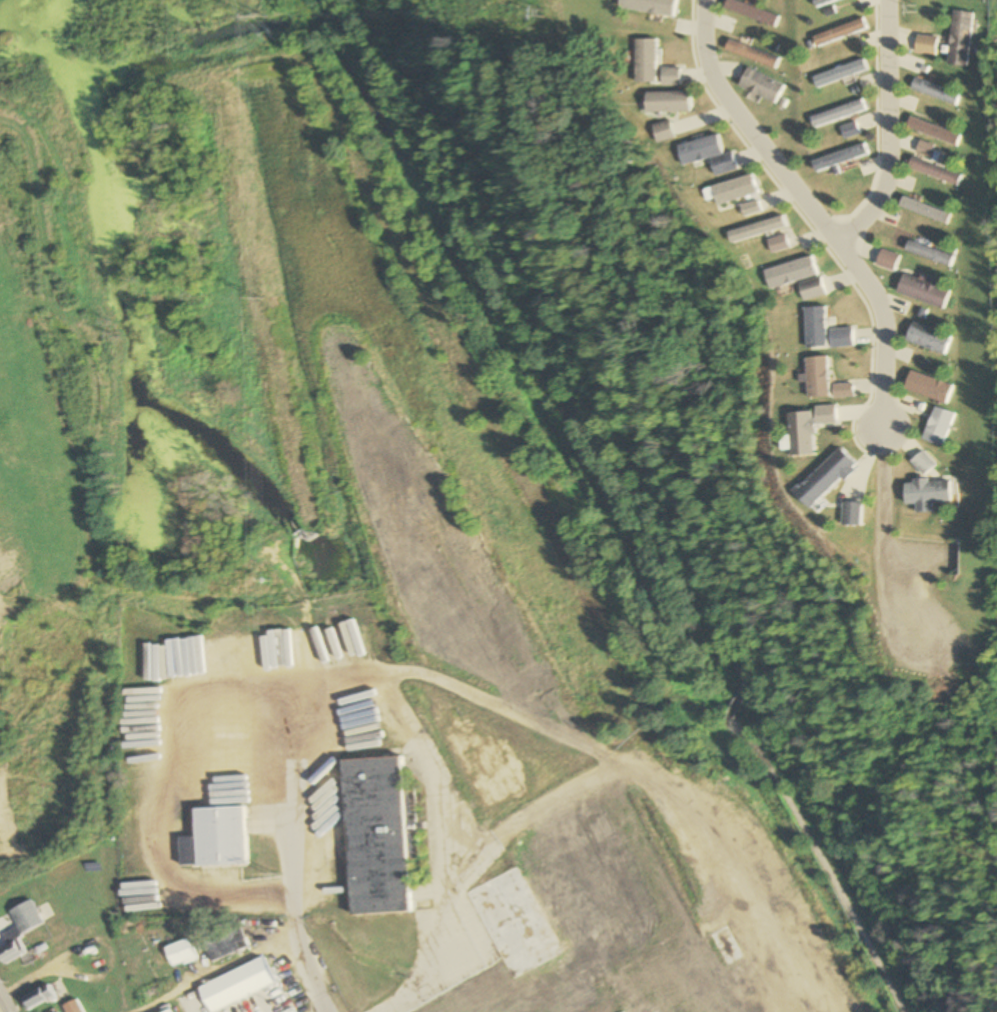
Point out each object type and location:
building: (817, 2)
building: (835, 33)
building: (957, 39)
building: (922, 45)
building: (640, 62)
building: (835, 74)
building: (665, 77)
building: (931, 92)
building: (664, 102)
building: (832, 114)
road: (878, 128)
building: (929, 131)
building: (660, 133)
building: (704, 155)
building: (929, 171)
road: (805, 211)
building: (918, 211)
building: (924, 253)
building: (919, 291)
road: (530, 349)
road: (737, 699)
building: (376, 835)
building: (218, 838)
road: (821, 861)
building: (511, 923)
building: (15, 944)
building: (723, 946)
building: (184, 953)
road: (250, 956)
building: (139, 957)
building: (96, 961)
building: (697, 981)
building: (38, 997)
building: (269, 998)
building: (194, 1006)
building: (245, 1006)
building: (73, 1007)
building: (539, 1010)
building: (173, 1011)

